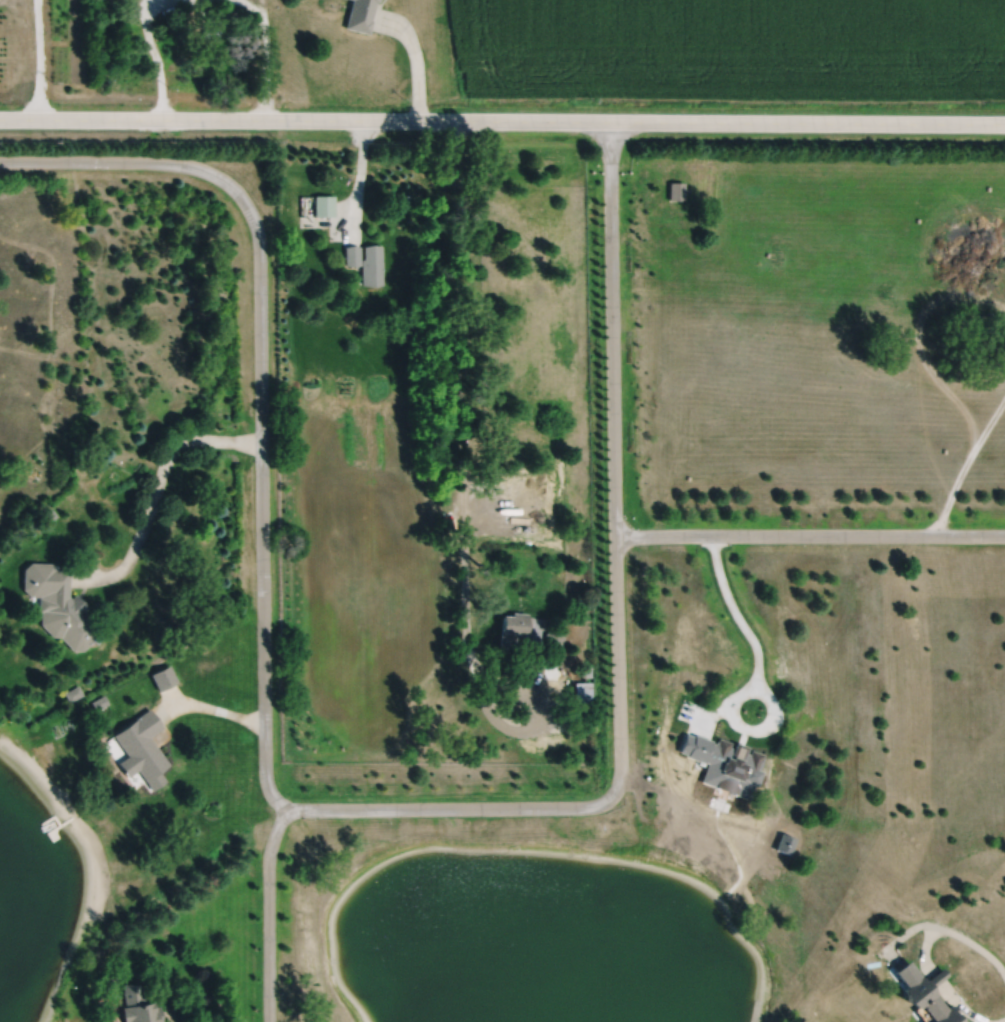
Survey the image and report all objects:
road: (264, 12)
building: (360, 15)
building: (211, 27)
road: (152, 48)
crop: (731, 49)
road: (265, 52)
road: (36, 59)
road: (417, 59)
road: (502, 119)
road: (359, 178)
building: (674, 190)
building: (324, 206)
building: (352, 256)
building: (371, 266)
road: (463, 482)
road: (156, 489)
road: (810, 534)
building: (58, 604)
building: (514, 626)
building: (554, 645)
building: (586, 670)
building: (163, 676)
road: (761, 677)
building: (583, 691)
building: (73, 692)
building: (98, 701)
road: (215, 709)
building: (143, 746)
building: (730, 770)
road: (351, 808)
road: (269, 912)
road: (904, 932)
road: (954, 932)
road: (931, 971)
road: (936, 978)
building: (109, 979)
building: (920, 989)
road: (959, 1003)
building: (138, 1005)
road: (942, 1018)
road: (1000, 1020)

